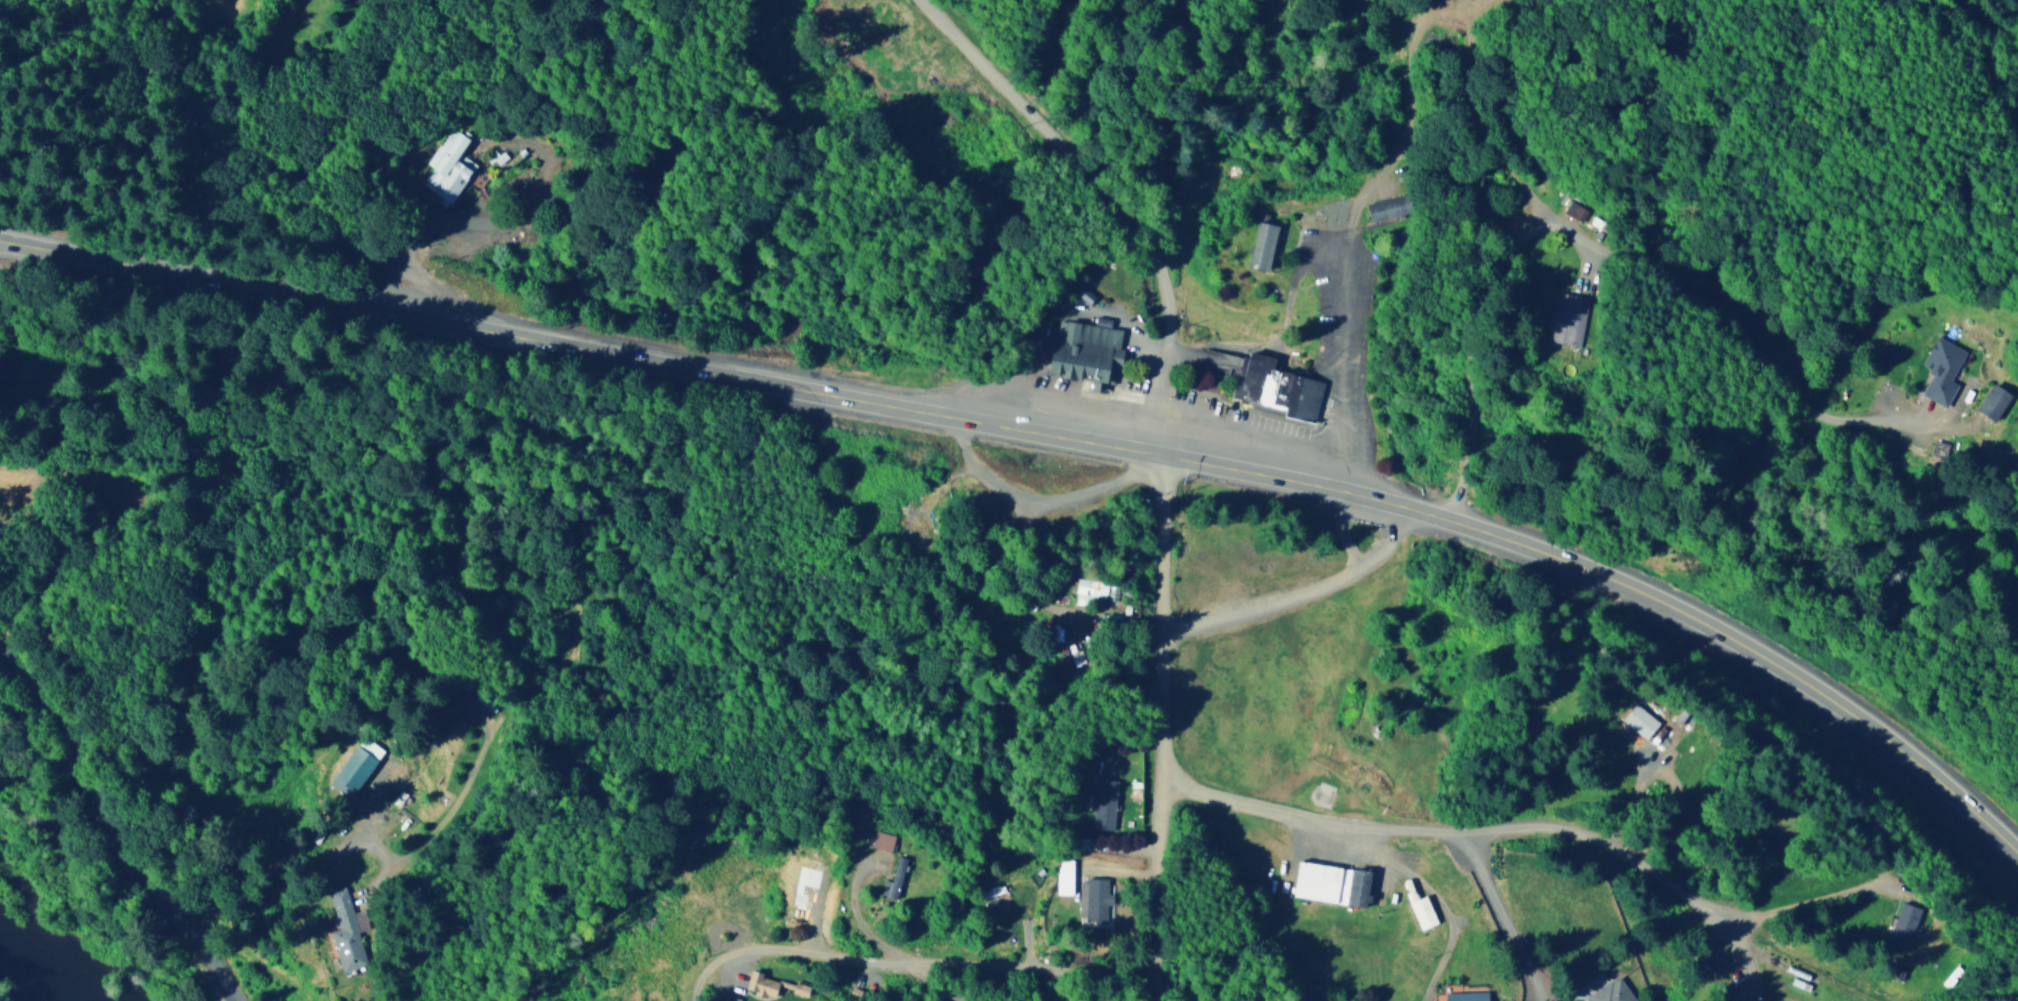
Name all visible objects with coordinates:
road: (1421, 21)
road: (1382, 24)
road: (1481, 129)
building: (449, 165)
road: (1118, 197)
building: (1576, 209)
road: (1359, 218)
building: (1263, 245)
road: (1613, 252)
road: (173, 269)
building: (1568, 318)
parking lot: (1361, 334)
building: (1083, 351)
building: (1942, 370)
building: (1279, 389)
building: (1993, 401)
road: (1224, 467)
road: (947, 488)
road: (1045, 503)
building: (1090, 589)
road: (1304, 596)
building: (487, 700)
building: (1640, 719)
road: (1164, 728)
building: (356, 765)
building: (1104, 802)
road: (127, 816)
road: (1548, 827)
building: (882, 838)
building: (1065, 875)
building: (894, 878)
building: (1332, 882)
building: (1094, 898)
building: (1423, 910)
road: (1504, 911)
building: (1904, 925)
road: (1751, 953)
road: (1827, 964)
river: (30, 965)
road: (915, 965)
building: (761, 982)
building: (800, 988)
building: (1611, 992)
building: (1466, 995)
building: (927, 999)

